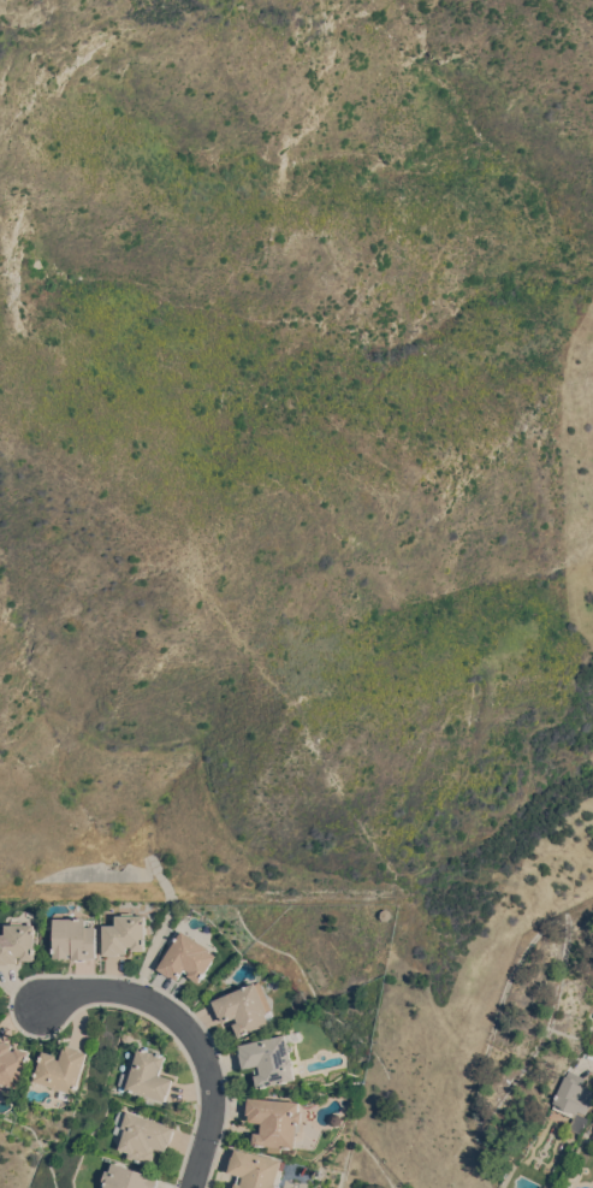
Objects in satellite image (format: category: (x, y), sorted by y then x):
building: (385, 912)
building: (124, 934)
building: (73, 938)
building: (17, 942)
building: (186, 957)
building: (244, 1007)
building: (592, 1016)
road: (183, 1027)
building: (128, 1035)
building: (269, 1058)
building: (12, 1063)
building: (61, 1069)
building: (147, 1075)
building: (573, 1098)
building: (274, 1121)
building: (140, 1135)
building: (592, 1135)
building: (255, 1169)
building: (125, 1177)
building: (546, 1186)

